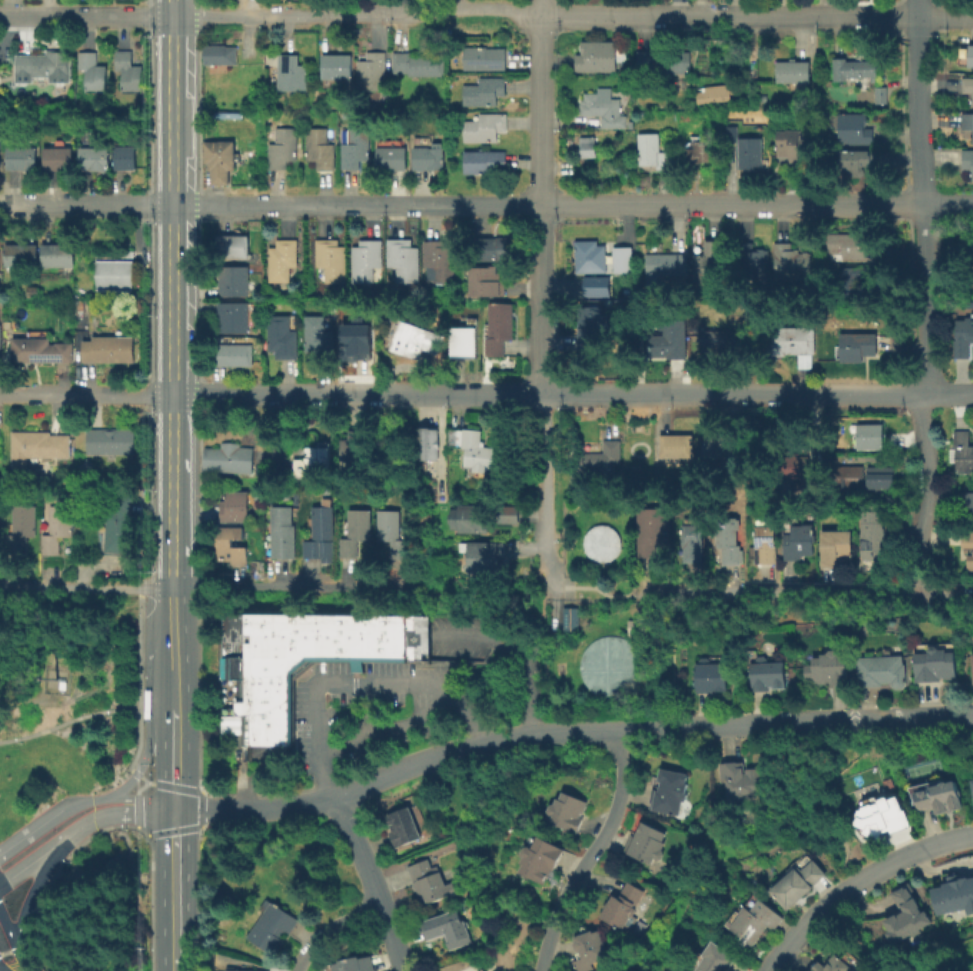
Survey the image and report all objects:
road: (486, 17)
building: (220, 53)
building: (484, 57)
building: (594, 57)
building: (970, 57)
building: (663, 61)
building: (419, 63)
building: (337, 65)
building: (92, 69)
building: (855, 69)
building: (44, 70)
building: (129, 70)
building: (372, 70)
building: (793, 71)
building: (292, 72)
building: (968, 87)
building: (484, 90)
building: (717, 91)
building: (878, 94)
building: (603, 106)
building: (968, 123)
building: (484, 126)
building: (854, 127)
building: (792, 144)
building: (586, 145)
building: (0, 147)
building: (282, 147)
building: (355, 147)
building: (319, 148)
building: (700, 149)
building: (653, 151)
building: (750, 151)
building: (125, 156)
building: (429, 156)
building: (22, 157)
building: (94, 157)
building: (58, 158)
building: (219, 158)
building: (388, 158)
building: (854, 160)
building: (485, 161)
building: (967, 163)
road: (920, 196)
road: (541, 197)
road: (947, 205)
road: (460, 206)
building: (232, 245)
building: (850, 246)
building: (491, 248)
building: (968, 253)
building: (22, 254)
building: (57, 254)
building: (594, 257)
building: (282, 258)
building: (331, 258)
building: (365, 258)
building: (439, 259)
building: (619, 259)
building: (750, 259)
building: (404, 260)
building: (790, 260)
building: (710, 262)
building: (658, 266)
building: (115, 274)
building: (679, 275)
building: (485, 279)
building: (233, 280)
building: (855, 284)
building: (596, 287)
road: (174, 295)
building: (234, 316)
building: (498, 326)
building: (589, 326)
building: (0, 334)
building: (282, 336)
building: (317, 336)
building: (405, 338)
building: (960, 338)
building: (790, 339)
building: (669, 340)
building: (353, 342)
building: (726, 343)
building: (462, 344)
building: (856, 345)
building: (109, 348)
building: (41, 349)
building: (232, 353)
road: (947, 392)
road: (547, 394)
road: (86, 395)
building: (870, 435)
building: (111, 440)
building: (719, 444)
building: (675, 445)
building: (39, 446)
building: (423, 446)
building: (353, 449)
building: (472, 450)
building: (962, 453)
building: (229, 457)
building: (593, 462)
building: (311, 463)
building: (879, 476)
building: (810, 478)
building: (853, 481)
road: (542, 491)
road: (923, 492)
building: (966, 502)
building: (235, 506)
building: (506, 516)
building: (468, 521)
building: (119, 524)
building: (21, 526)
building: (57, 527)
building: (651, 529)
building: (320, 530)
building: (355, 530)
building: (283, 532)
building: (391, 532)
building: (871, 540)
building: (798, 541)
building: (599, 542)
storage tank: (599, 542)
building: (693, 542)
building: (233, 544)
building: (727, 544)
building: (766, 544)
building: (836, 546)
building: (972, 551)
building: (483, 561)
road: (592, 587)
road: (87, 589)
road: (293, 590)
road: (175, 593)
road: (804, 593)
road: (175, 607)
building: (569, 621)
building: (632, 626)
road: (534, 628)
road: (516, 655)
road: (671, 658)
building: (302, 664)
building: (934, 665)
building: (608, 666)
storage tank: (608, 666)
building: (971, 666)
road: (175, 667)
building: (825, 668)
building: (878, 671)
building: (765, 675)
building: (714, 677)
road: (354, 680)
road: (38, 699)
road: (149, 713)
road: (71, 722)
road: (383, 726)
road: (649, 728)
road: (140, 734)
road: (176, 762)
building: (745, 777)
road: (255, 779)
building: (972, 783)
road: (151, 784)
building: (673, 790)
building: (932, 796)
road: (116, 800)
road: (136, 802)
road: (807, 805)
traffic signals: (177, 810)
building: (571, 810)
road: (257, 811)
road: (112, 816)
building: (878, 817)
building: (405, 825)
road: (29, 835)
building: (649, 842)
road: (73, 847)
road: (591, 852)
road: (177, 856)
building: (544, 858)
road: (28, 867)
building: (802, 880)
building: (432, 881)
road: (372, 883)
road: (856, 883)
building: (953, 895)
road: (32, 897)
building: (626, 905)
road: (110, 908)
road: (151, 915)
building: (901, 917)
building: (757, 919)
building: (274, 927)
road: (332, 928)
building: (449, 928)
road: (8, 931)
road: (177, 935)
road: (860, 945)
road: (24, 948)
building: (592, 948)
road: (9, 953)
building: (719, 958)
road: (22, 961)
building: (357, 963)
building: (826, 965)
road: (177, 969)
road: (0, 970)
building: (248, 970)
building: (484, 970)

